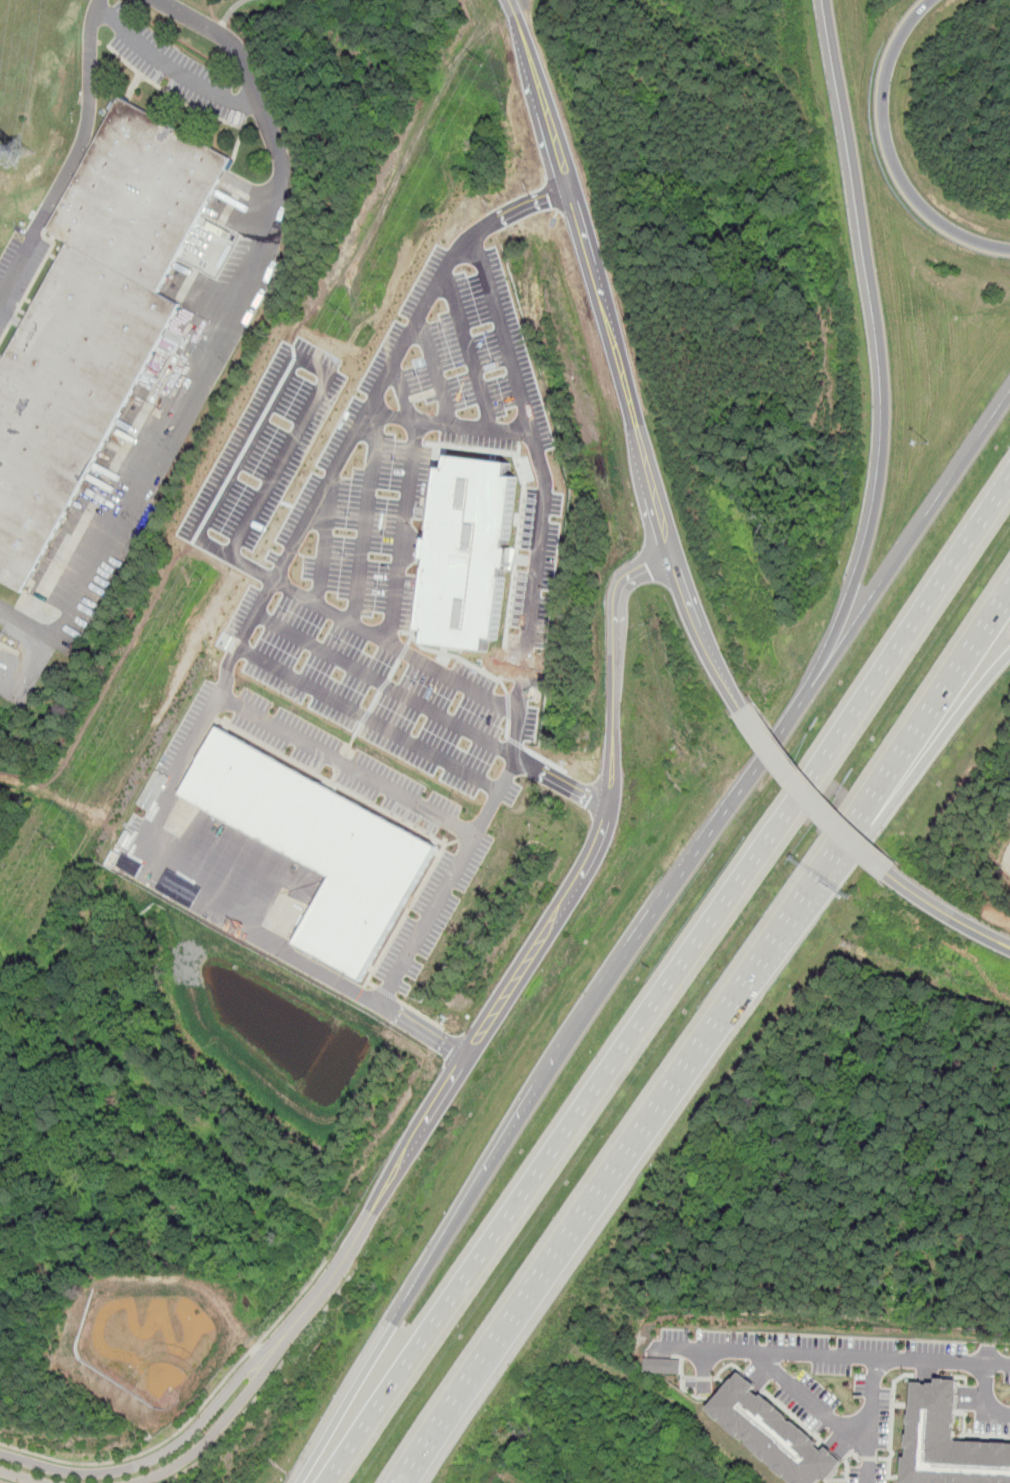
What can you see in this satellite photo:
power tower: (480, 59)
parking lot: (173, 66)
road: (171, 67)
road: (888, 150)
power tower: (19, 155)
road: (73, 155)
parking lot: (18, 271)
power tower: (341, 312)
building: (94, 320)
road: (882, 338)
road: (223, 345)
road: (467, 351)
road: (618, 358)
road: (391, 364)
road: (436, 372)
road: (401, 394)
road: (262, 416)
road: (452, 427)
road: (545, 491)
road: (403, 533)
road: (324, 540)
building: (468, 553)
power tower: (195, 578)
building: (0, 631)
road: (246, 651)
road: (33, 654)
road: (435, 668)
road: (385, 684)
road: (262, 717)
road: (900, 748)
parking lot: (342, 762)
parking lot: (170, 776)
road: (560, 782)
road: (905, 786)
road: (811, 796)
power tower: (52, 842)
building: (317, 846)
road: (578, 877)
road: (447, 879)
parking lot: (433, 911)
road: (946, 913)
road: (643, 932)
road: (298, 956)
road: (667, 987)
road: (593, 1195)
road: (345, 1259)
road: (834, 1356)
building: (670, 1360)
road: (263, 1388)
road: (981, 1401)
road: (191, 1417)
road: (224, 1419)
road: (846, 1430)
building: (775, 1432)
building: (951, 1443)
road: (166, 1450)
road: (19, 1476)
road: (4, 1481)

